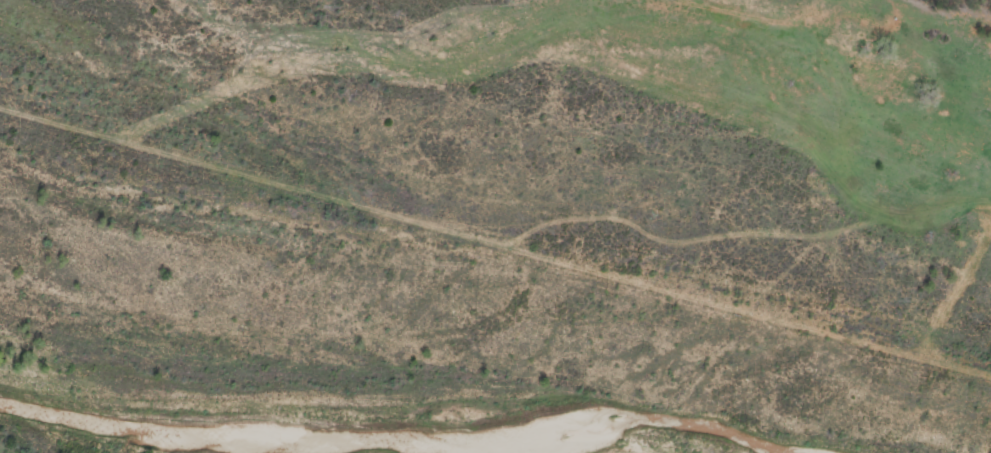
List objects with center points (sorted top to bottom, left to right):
river: (399, 441)

